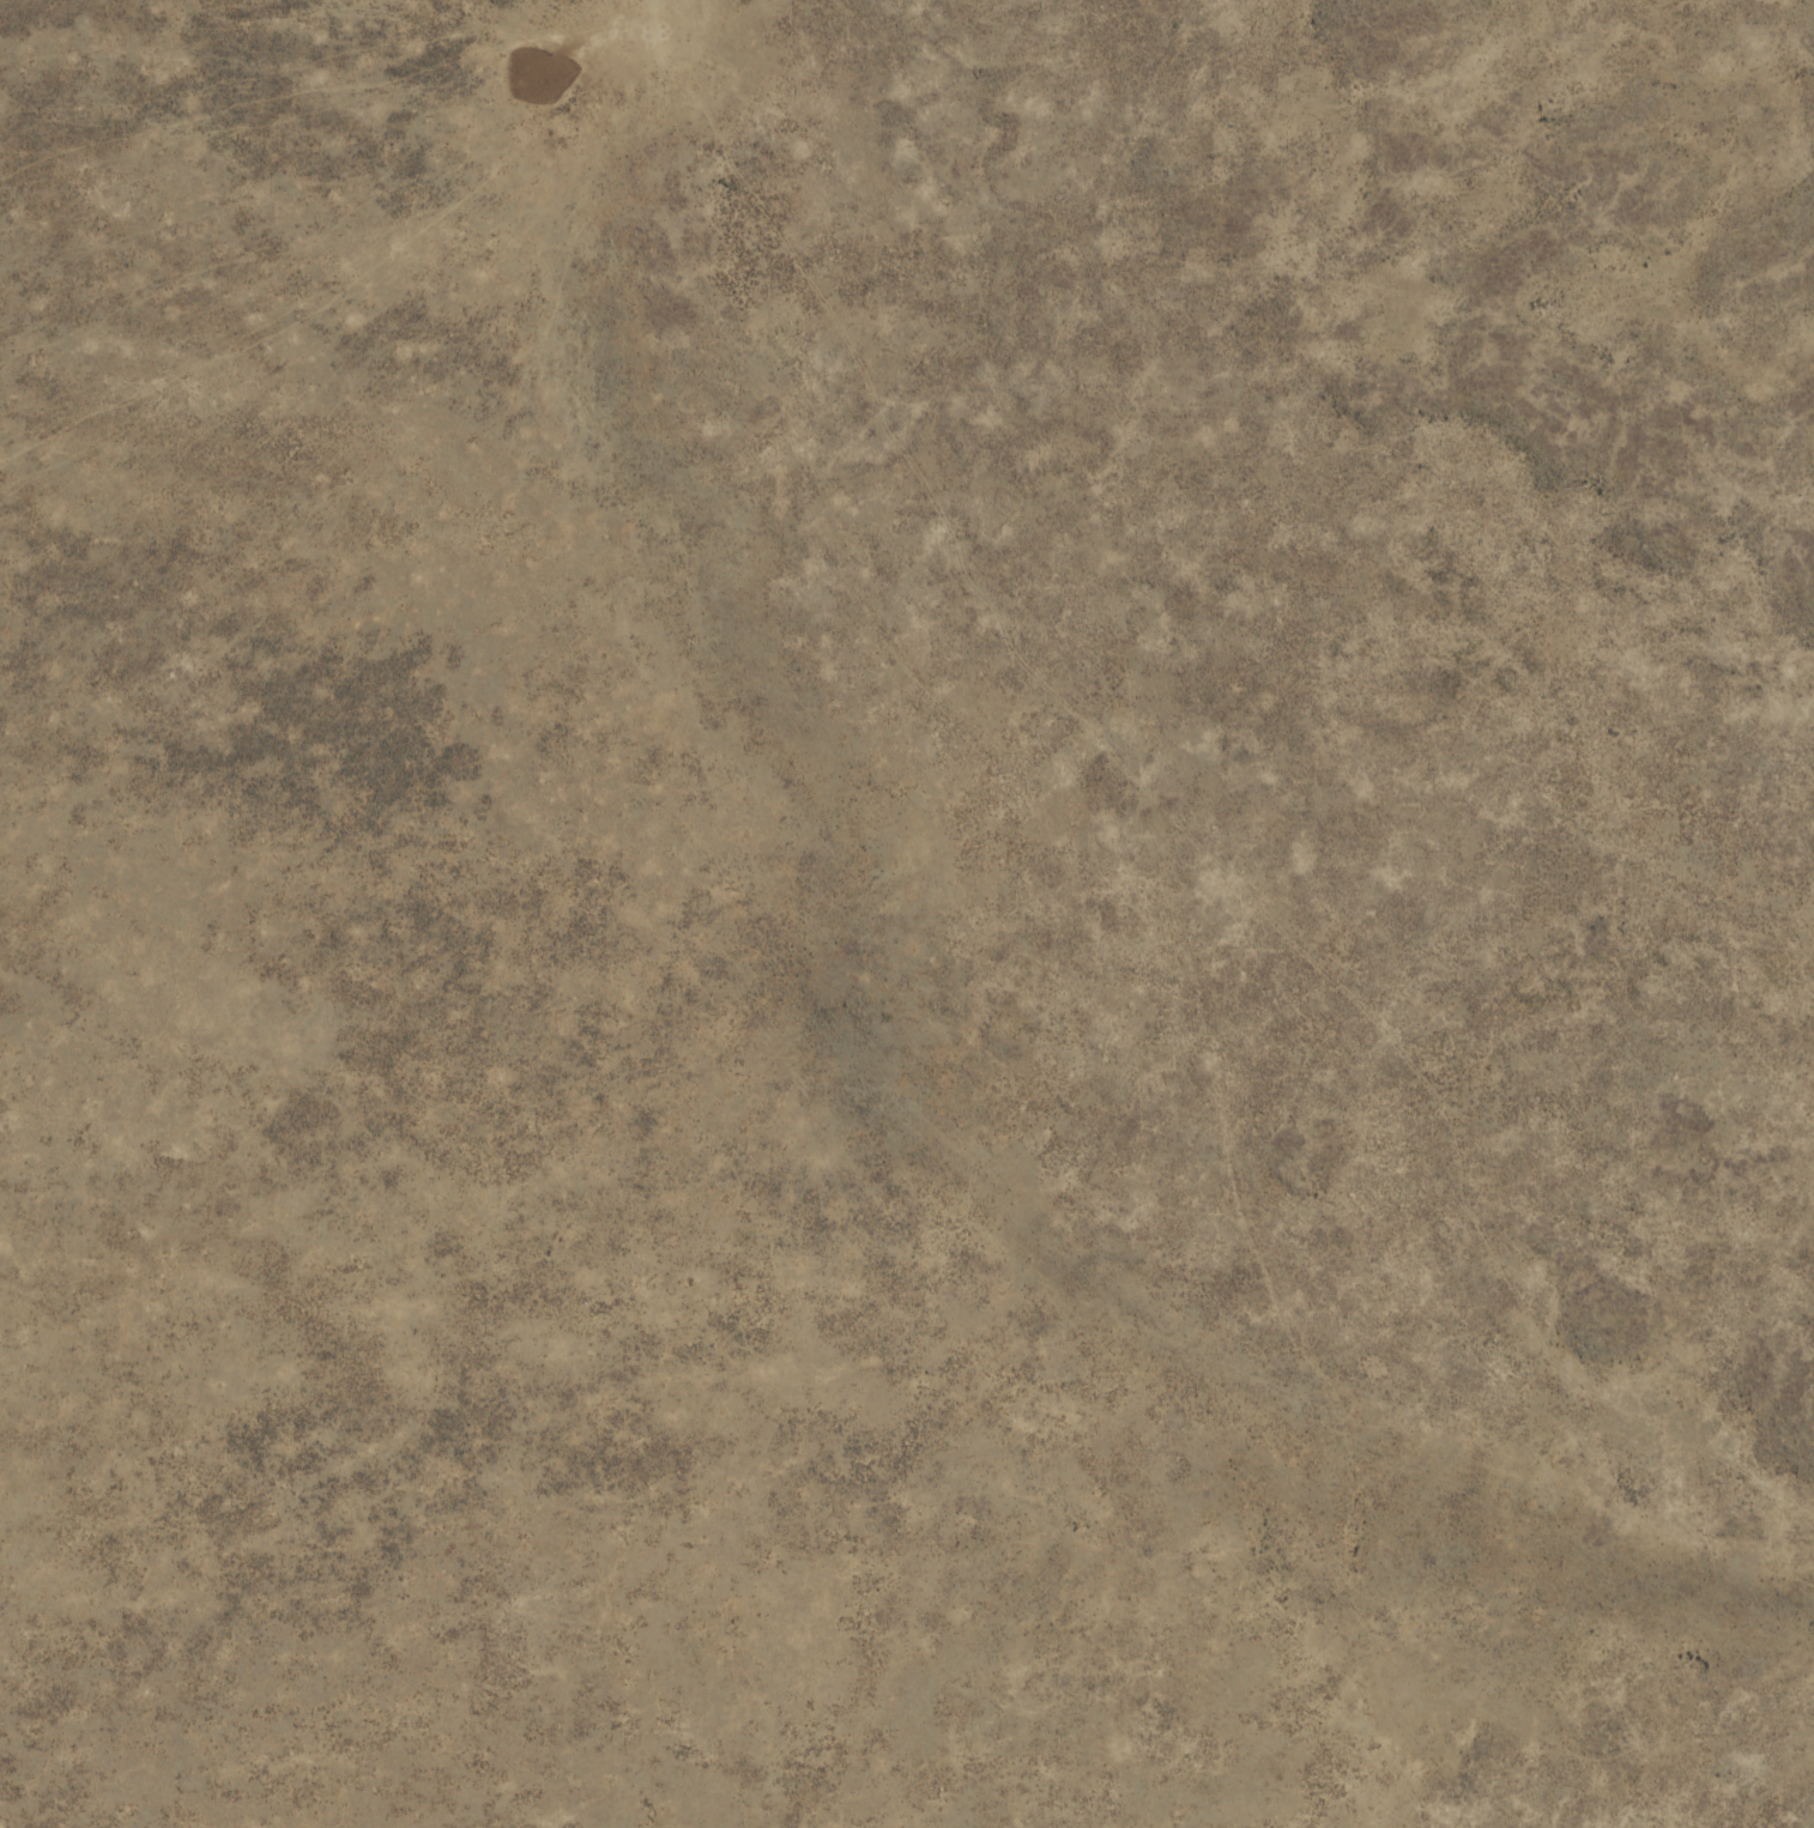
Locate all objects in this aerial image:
road: (1139, 810)

